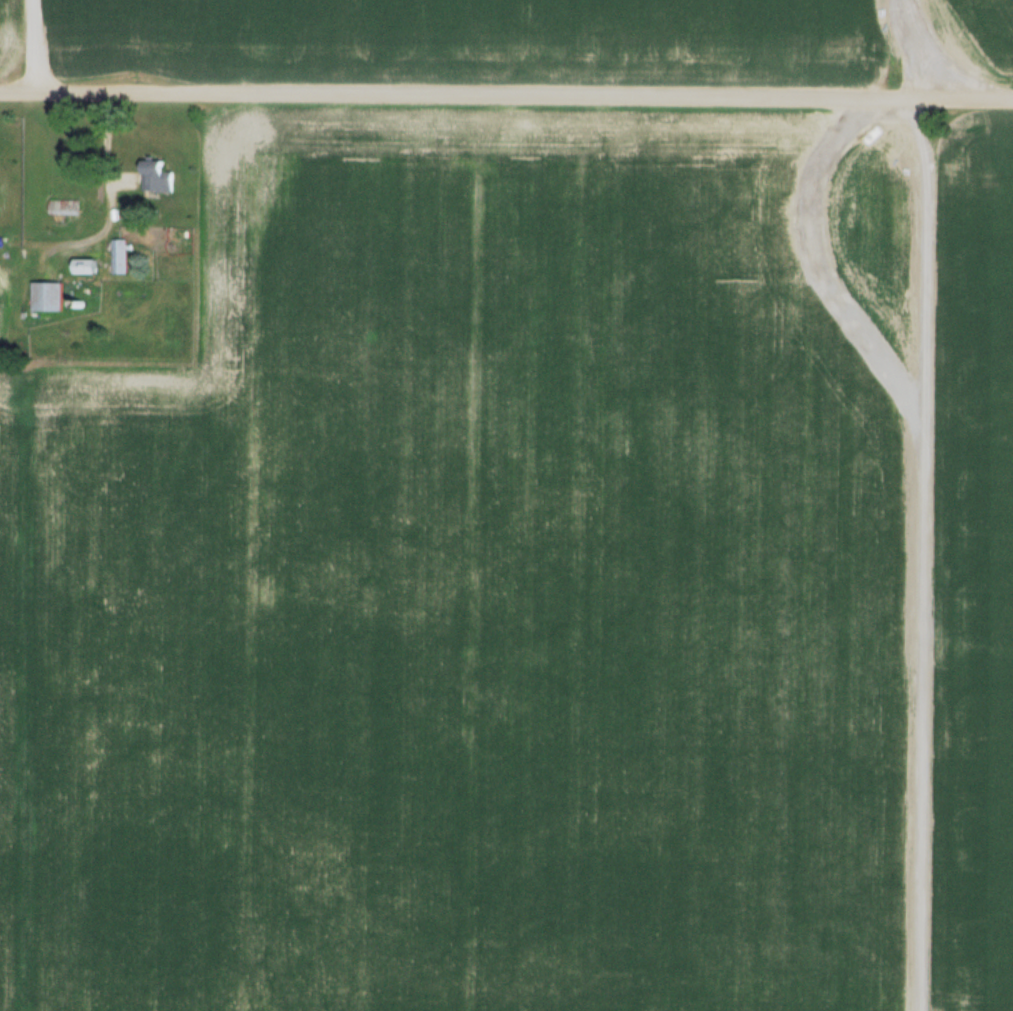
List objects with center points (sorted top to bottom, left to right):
road: (33, 45)
road: (924, 49)
road: (506, 93)
building: (156, 176)
building: (62, 206)
building: (119, 256)
building: (85, 266)
building: (47, 296)
road: (916, 554)

